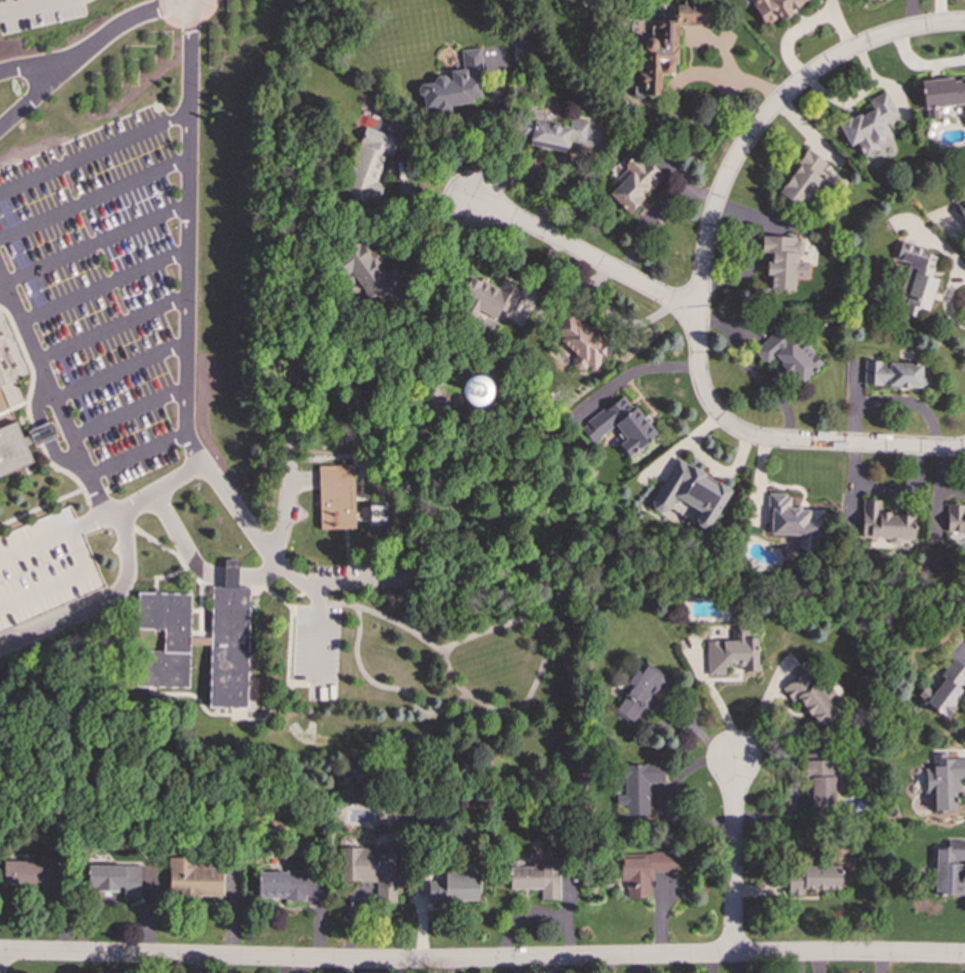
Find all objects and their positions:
road: (33, 8)
building: (775, 8)
road: (90, 45)
building: (665, 45)
building: (455, 83)
road: (677, 84)
building: (942, 95)
road: (31, 98)
building: (869, 124)
building: (550, 130)
road: (94, 151)
building: (368, 165)
road: (558, 174)
road: (516, 176)
building: (803, 180)
building: (634, 182)
road: (94, 197)
road: (716, 201)
building: (962, 207)
road: (96, 242)
road: (584, 255)
building: (783, 261)
road: (432, 267)
building: (370, 273)
parking lot: (102, 278)
building: (915, 278)
road: (104, 284)
road: (186, 296)
building: (489, 297)
road: (112, 327)
building: (579, 342)
road: (356, 348)
building: (787, 355)
road: (120, 369)
building: (893, 374)
building: (474, 390)
building: (9, 391)
water tower: (475, 391)
road: (53, 394)
road: (128, 411)
road: (286, 425)
building: (619, 425)
road: (890, 446)
road: (136, 454)
building: (690, 493)
building: (336, 496)
road: (142, 497)
road: (286, 504)
building: (793, 520)
building: (956, 520)
building: (884, 522)
road: (75, 530)
road: (35, 547)
building: (44, 567)
parking garage: (44, 567)
road: (264, 573)
road: (63, 580)
road: (97, 600)
road: (10, 634)
building: (165, 638)
building: (228, 641)
building: (731, 653)
building: (948, 687)
building: (640, 692)
building: (811, 697)
building: (944, 780)
building: (819, 784)
building: (638, 786)
road: (733, 856)
building: (949, 868)
building: (370, 869)
building: (645, 871)
building: (31, 874)
building: (115, 878)
building: (193, 878)
building: (535, 878)
building: (811, 878)
building: (282, 884)
building: (454, 887)
road: (482, 961)

